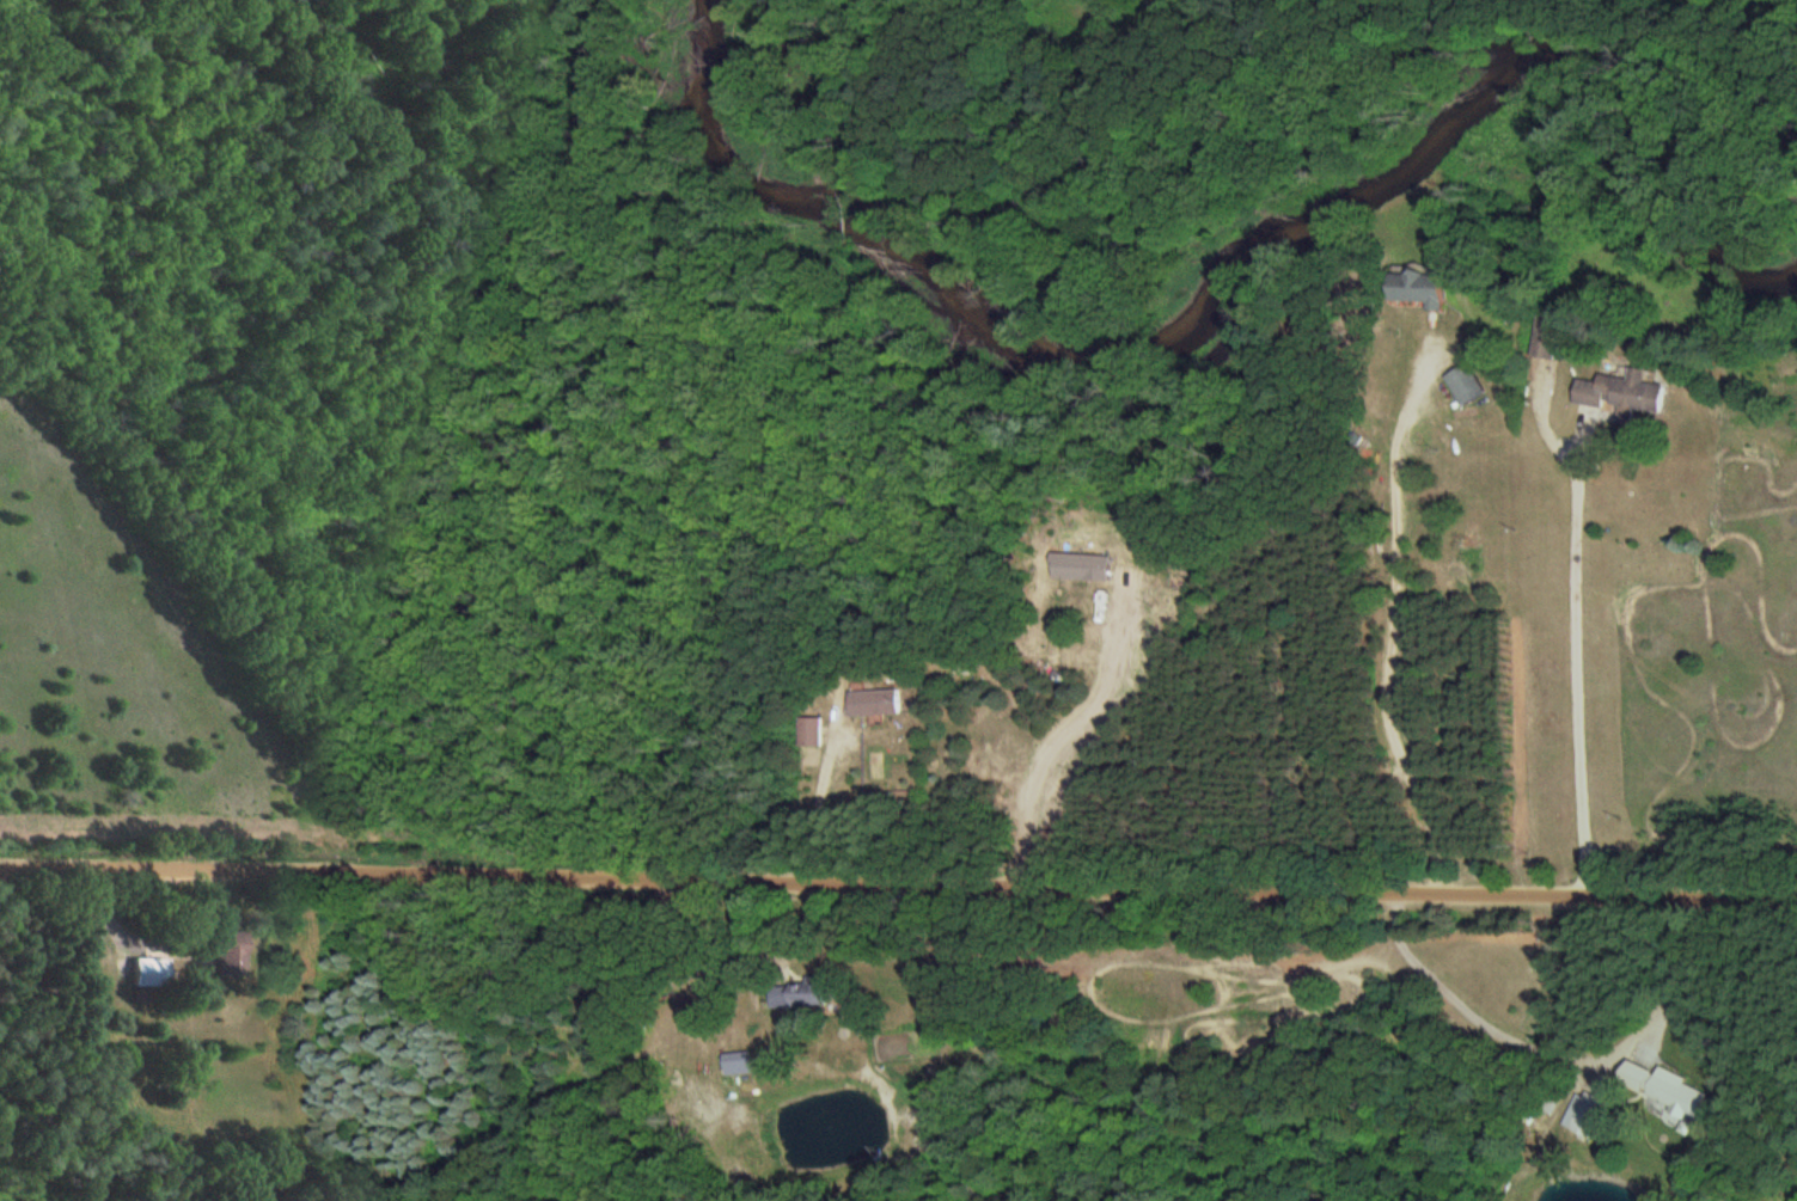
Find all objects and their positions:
river: (1221, 272)
building: (1416, 288)
building: (1544, 337)
building: (1463, 384)
building: (1620, 393)
road: (1395, 614)
road: (1578, 648)
building: (873, 703)
building: (808, 731)
road: (898, 883)
building: (215, 950)
building: (141, 972)
building: (797, 994)
building: (1665, 1089)
building: (1589, 1115)

